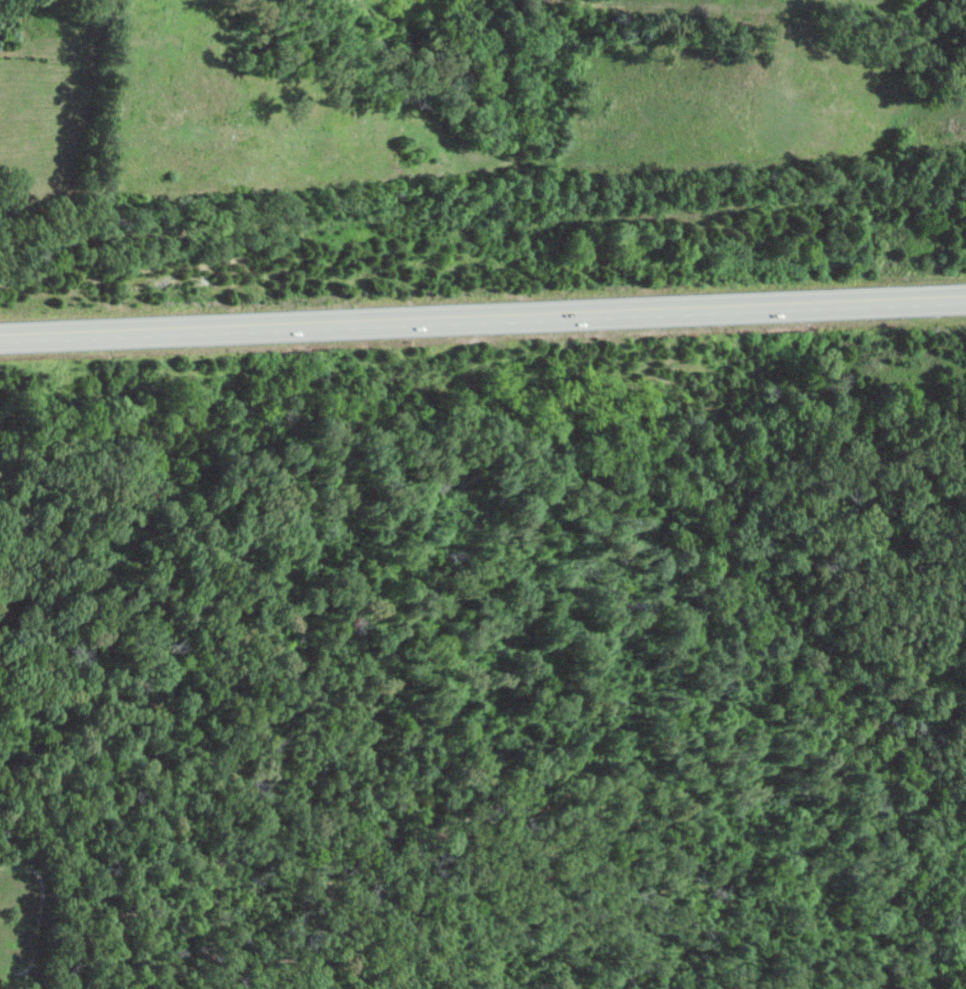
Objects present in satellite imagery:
road: (483, 315)

